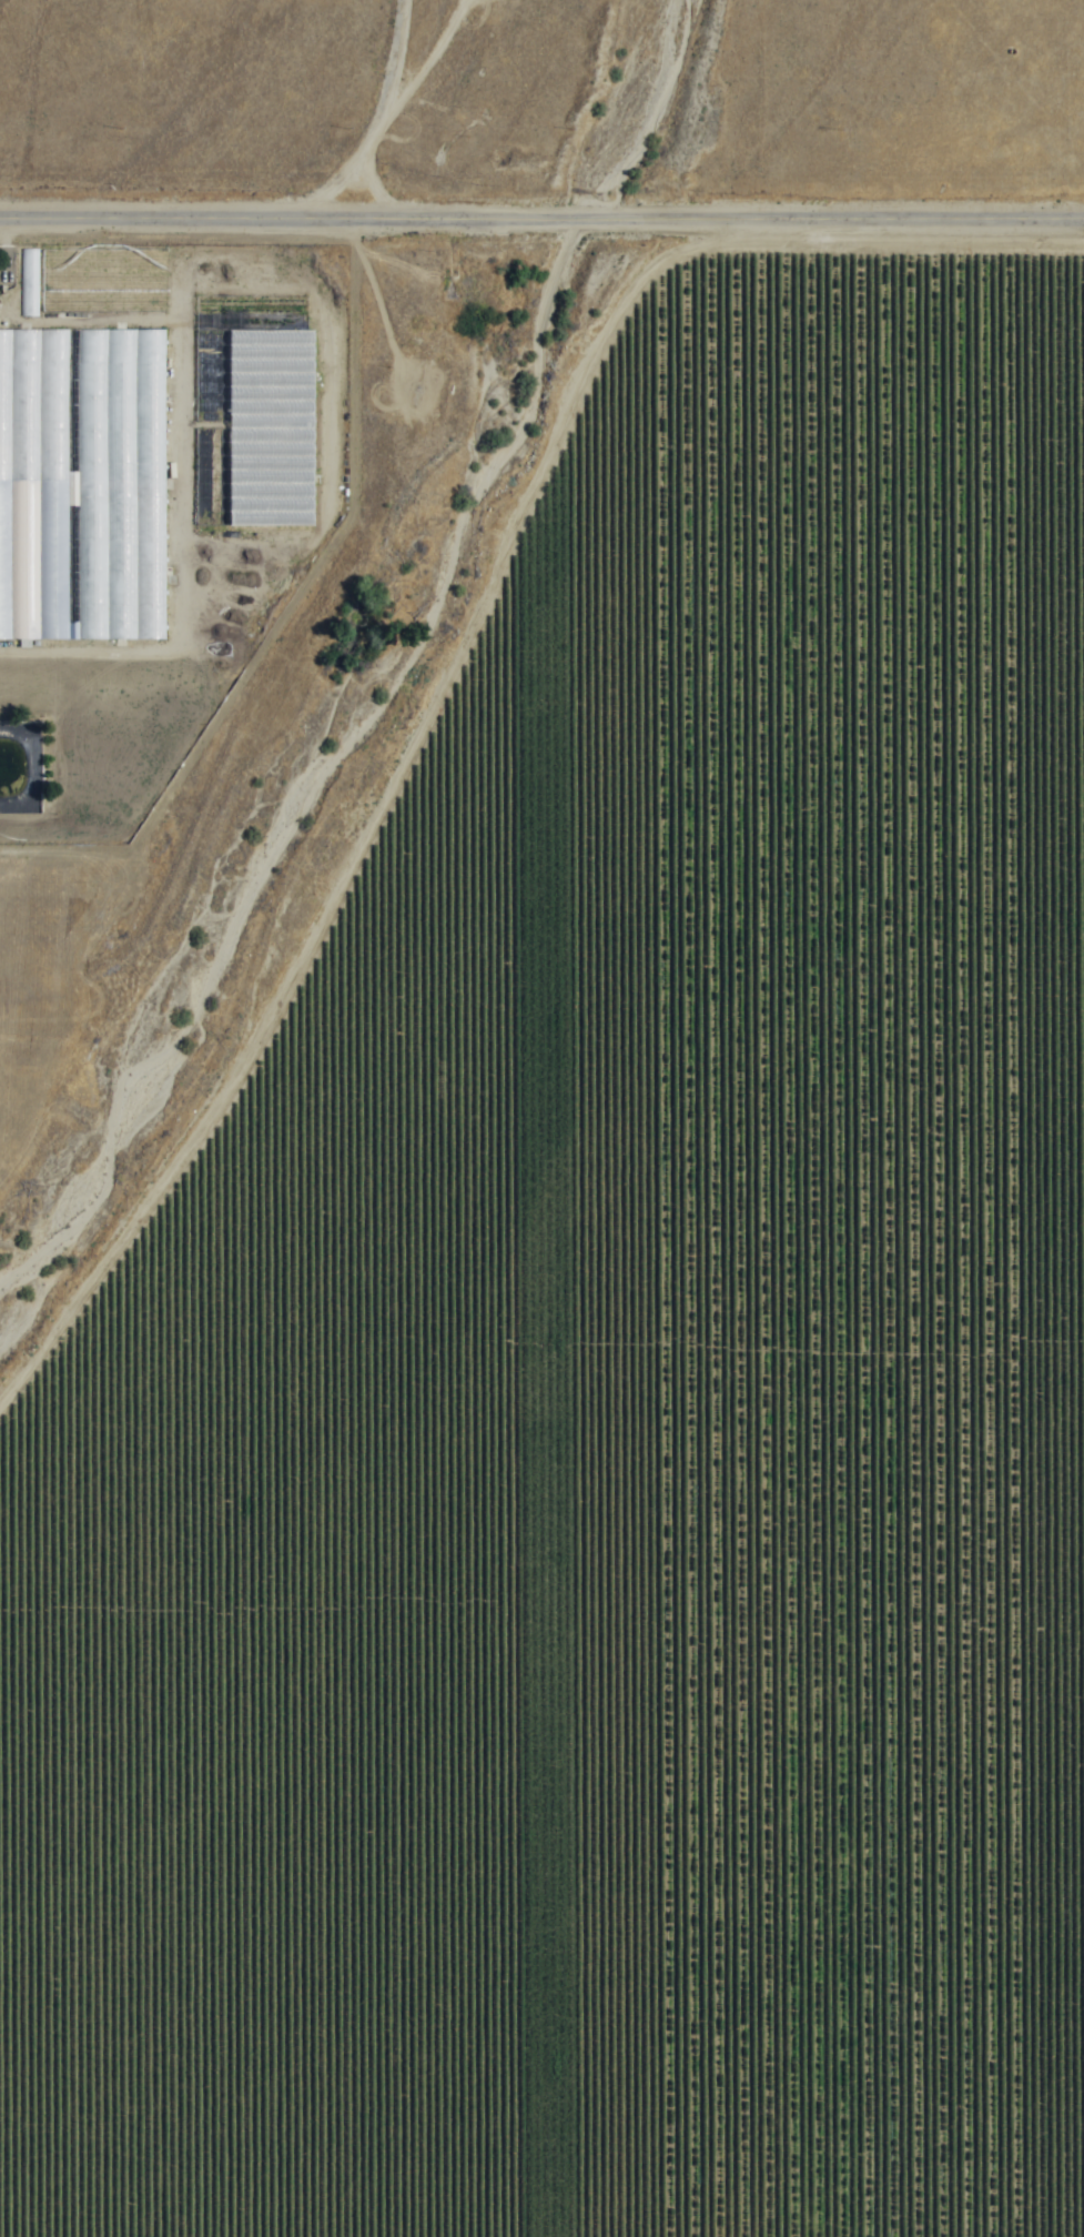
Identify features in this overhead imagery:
road: (402, 110)
road: (541, 221)
building: (28, 283)
building: (81, 486)
wastewater plant: (12, 785)
road: (340, 802)
crop: (615, 1360)

